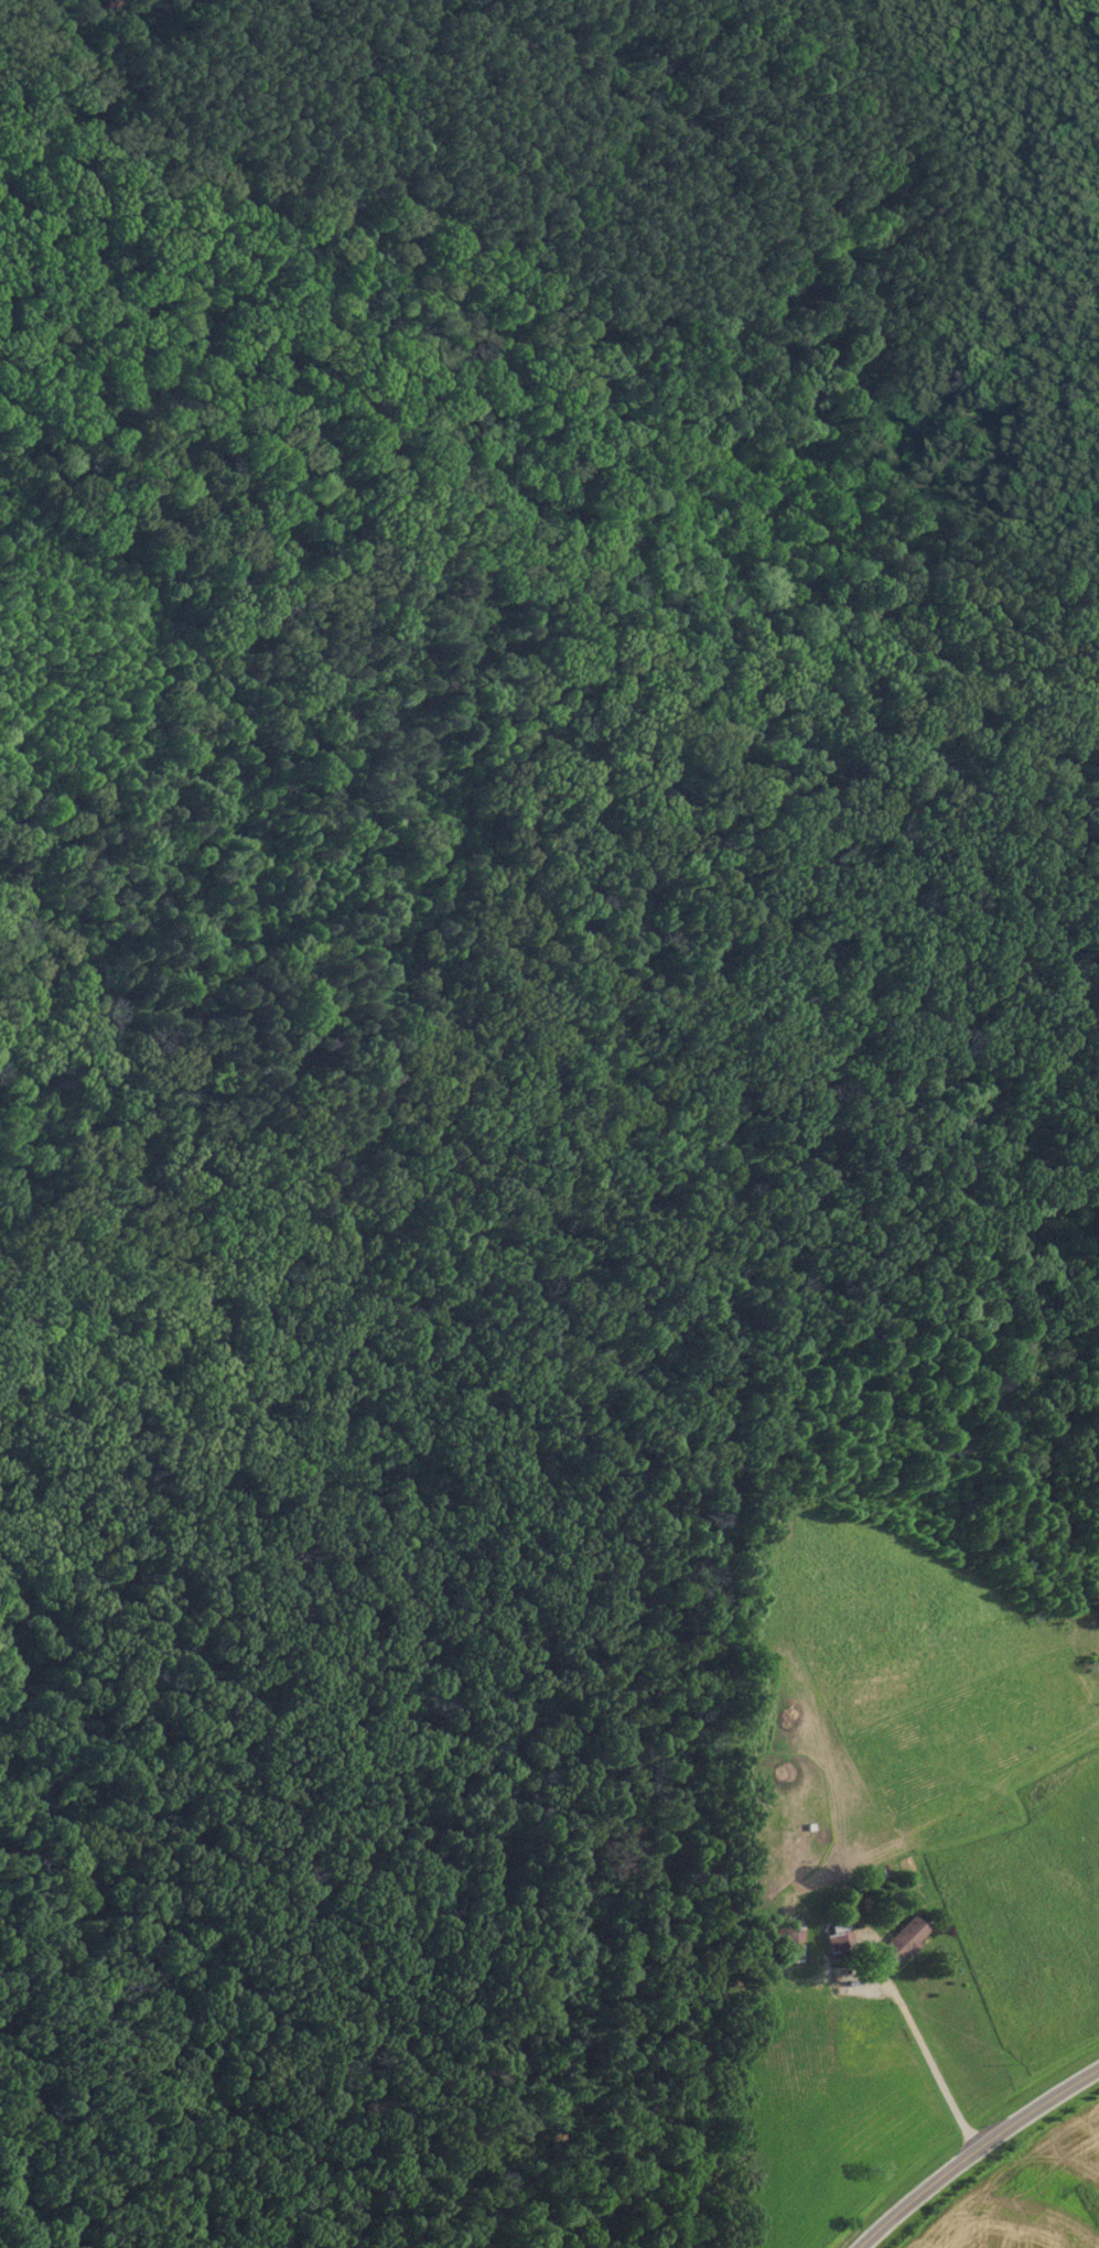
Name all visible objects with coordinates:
building: (901, 1939)
building: (836, 1942)
road: (973, 2150)

